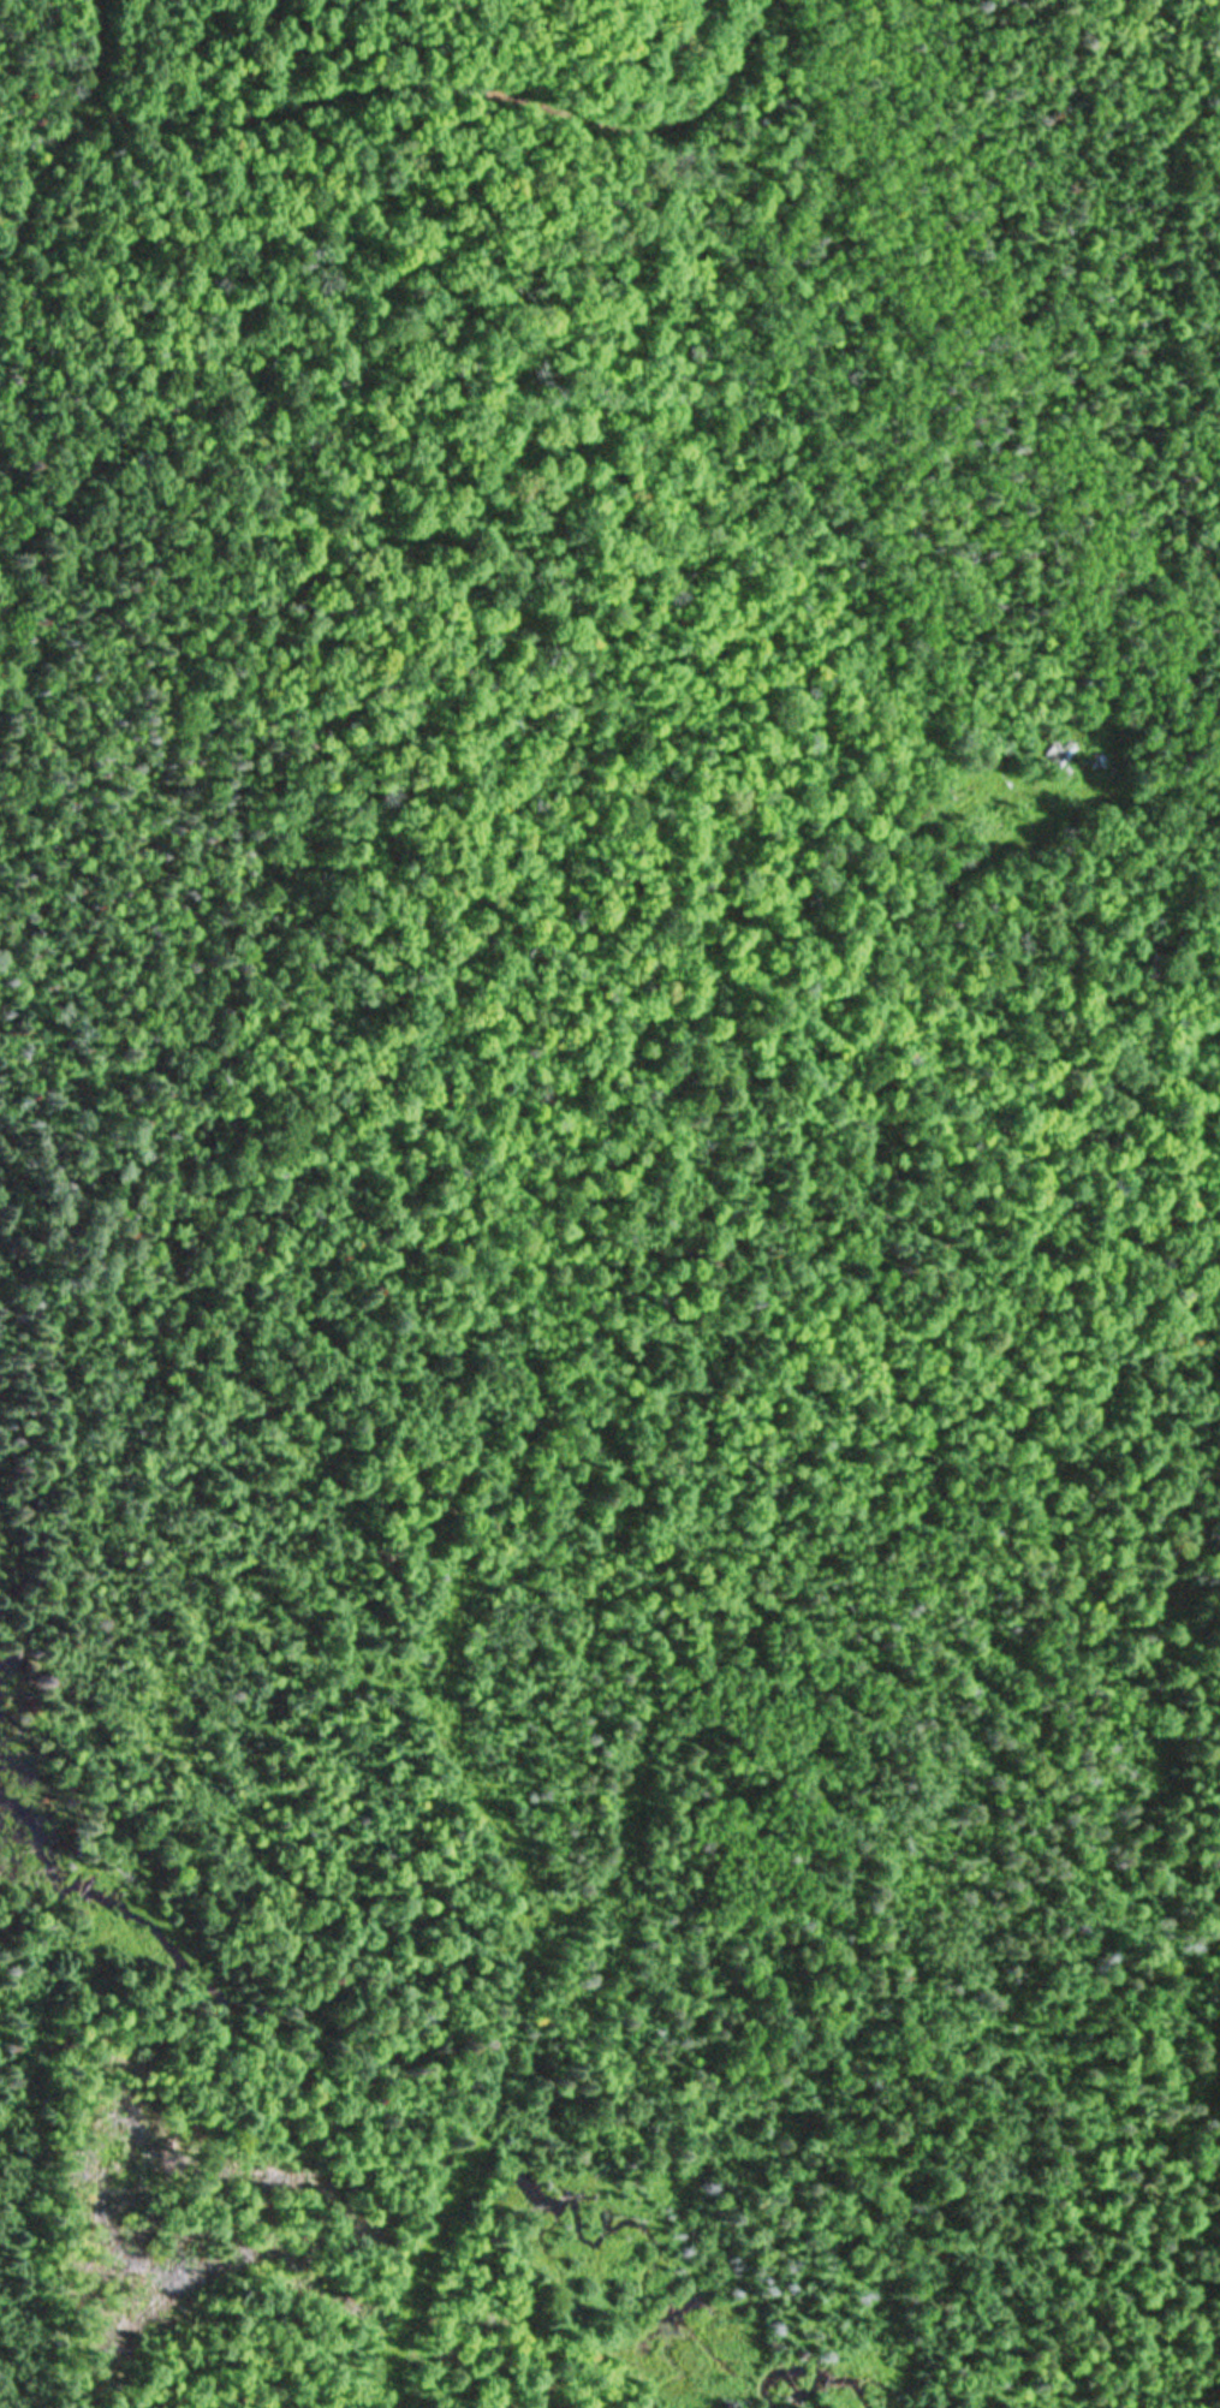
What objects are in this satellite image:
building: (1055, 750)

